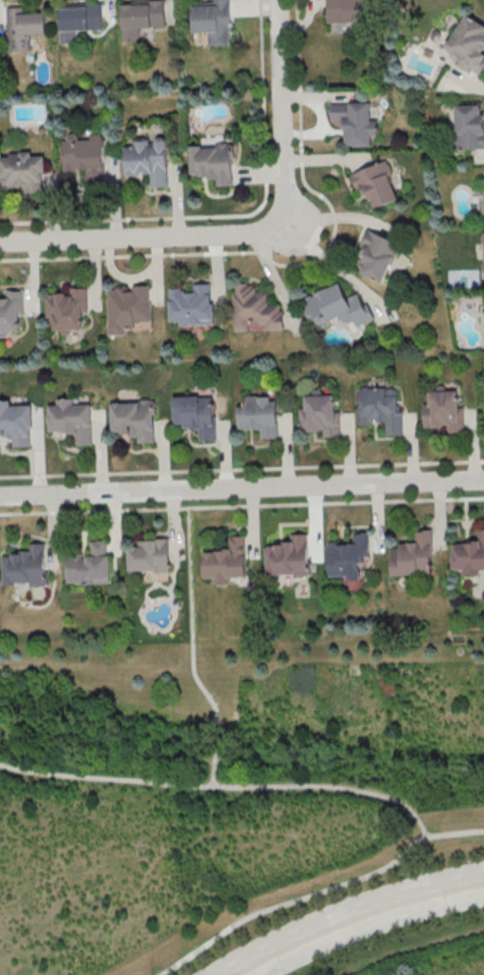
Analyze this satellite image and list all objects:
building: (347, 10)
building: (140, 16)
building: (78, 18)
building: (212, 20)
building: (23, 26)
building: (468, 44)
building: (355, 121)
building: (469, 126)
building: (84, 155)
building: (148, 158)
building: (212, 162)
building: (21, 171)
building: (376, 183)
building: (483, 194)
road: (235, 215)
road: (250, 232)
building: (483, 246)
building: (377, 255)
road: (296, 264)
building: (191, 304)
building: (127, 306)
building: (254, 307)
building: (336, 307)
building: (66, 308)
building: (10, 310)
building: (380, 406)
building: (444, 410)
building: (319, 413)
building: (195, 414)
building: (259, 415)
building: (71, 418)
building: (133, 418)
building: (15, 422)
road: (242, 469)
road: (242, 486)
road: (242, 505)
building: (469, 554)
building: (149, 555)
building: (348, 555)
building: (413, 555)
building: (288, 556)
building: (226, 560)
building: (89, 564)
building: (25, 565)
road: (191, 617)
road: (214, 753)
park: (221, 784)
road: (222, 785)
road: (318, 892)
road: (353, 917)
park: (414, 954)
road: (252, 970)

